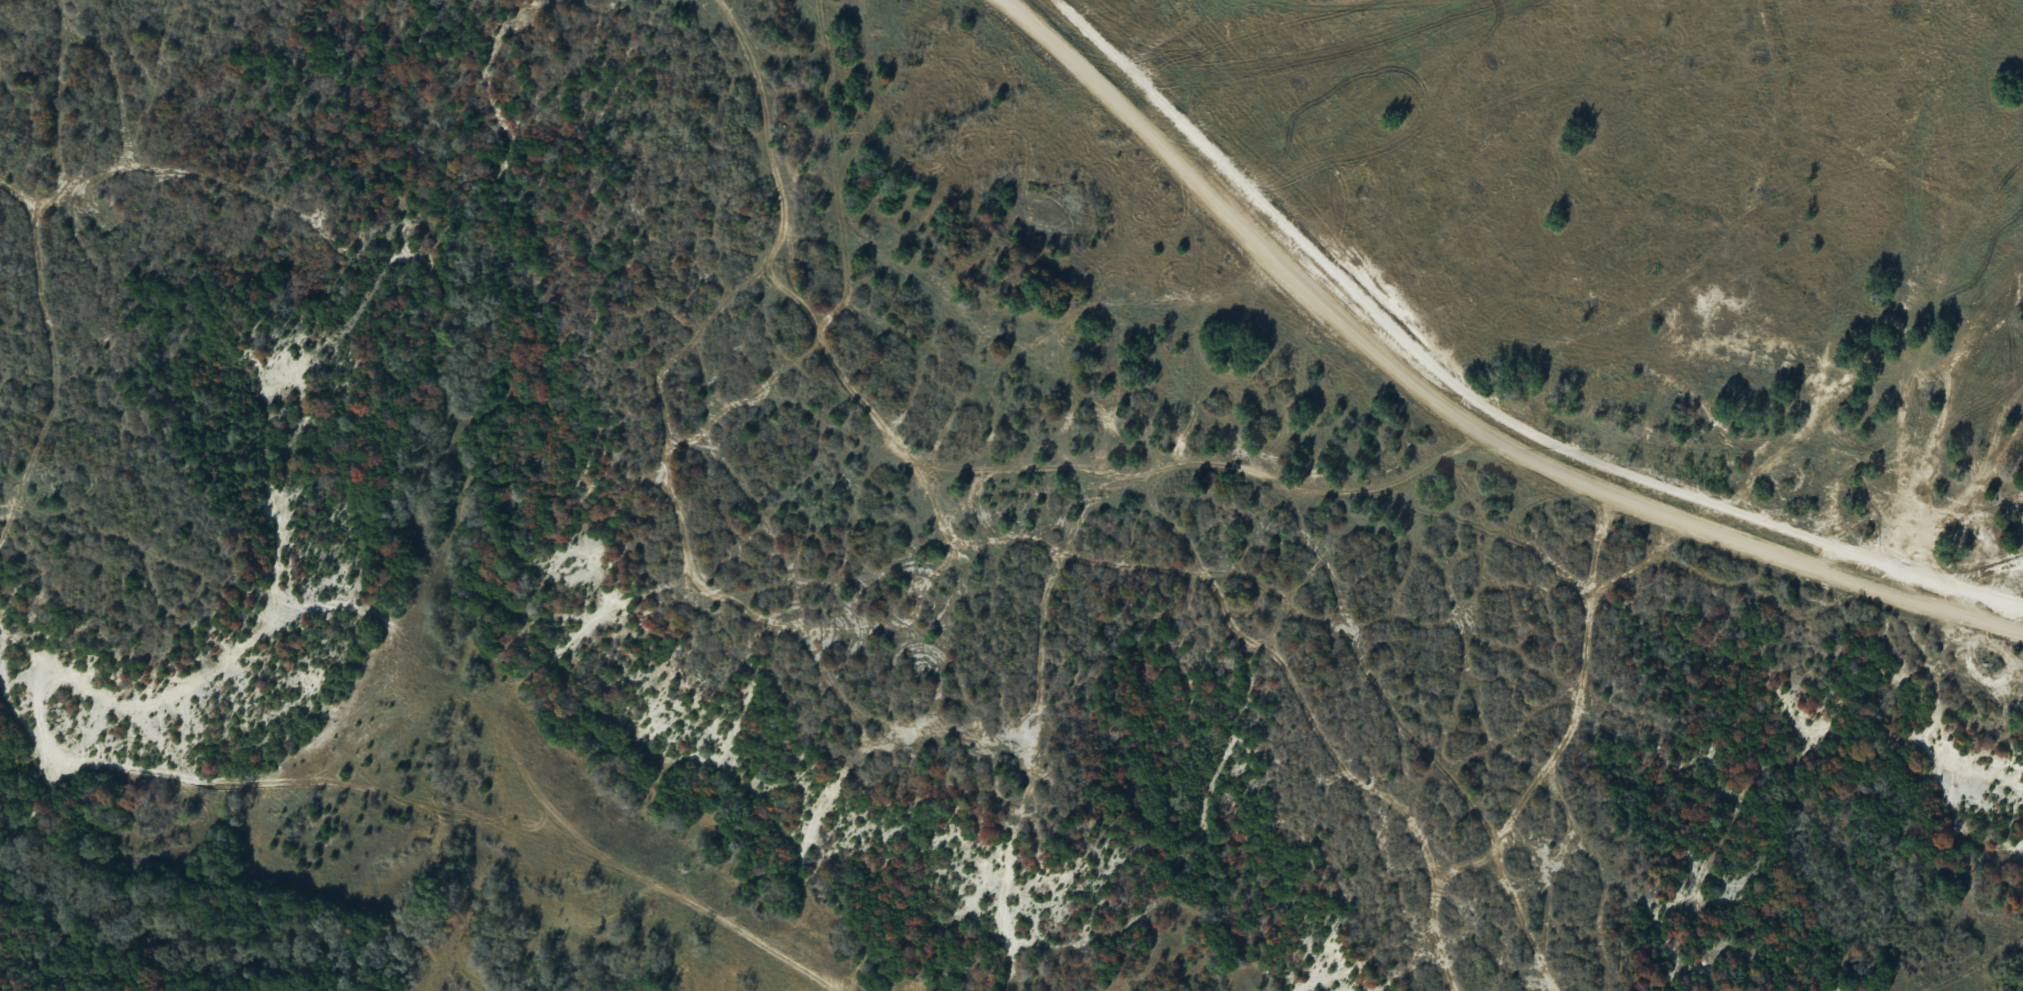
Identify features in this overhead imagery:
road: (1478, 401)
road: (1453, 413)

